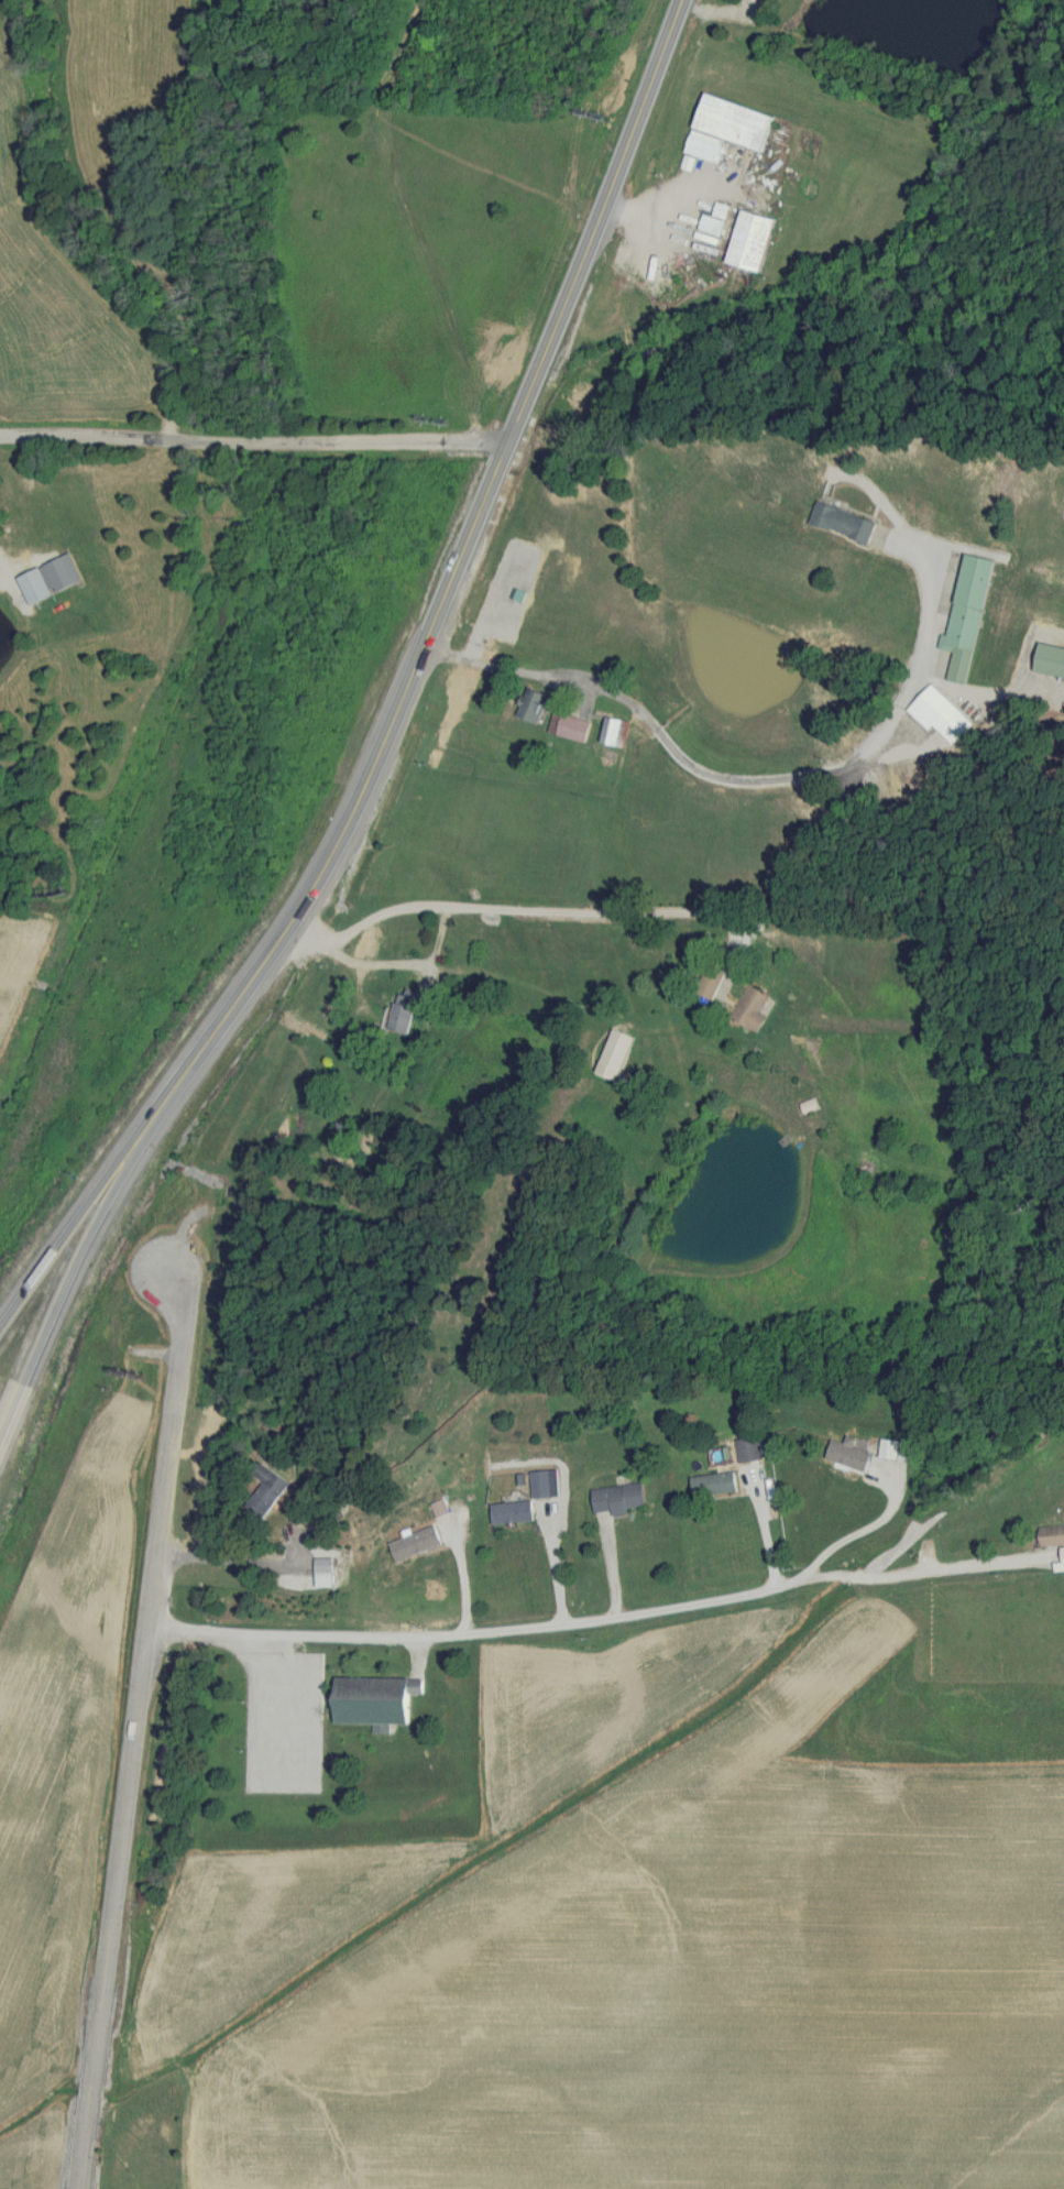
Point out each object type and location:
building: (728, 127)
building: (753, 240)
road: (253, 440)
building: (845, 521)
road: (456, 561)
road: (6, 572)
building: (52, 579)
building: (969, 616)
building: (1050, 659)
building: (534, 704)
building: (942, 716)
building: (573, 727)
building: (614, 731)
road: (736, 780)
road: (535, 909)
building: (684, 915)
road: (353, 960)
building: (713, 978)
building: (752, 1009)
building: (404, 1010)
building: (617, 1050)
building: (341, 1137)
road: (85, 1210)
road: (80, 1262)
building: (749, 1449)
building: (849, 1456)
building: (541, 1485)
building: (714, 1485)
building: (267, 1491)
building: (619, 1498)
building: (513, 1512)
road: (865, 1533)
building: (1052, 1536)
building: (416, 1544)
road: (232, 1562)
building: (326, 1573)
road: (919, 1573)
road: (481, 1632)
building: (375, 1699)
road: (136, 1729)

